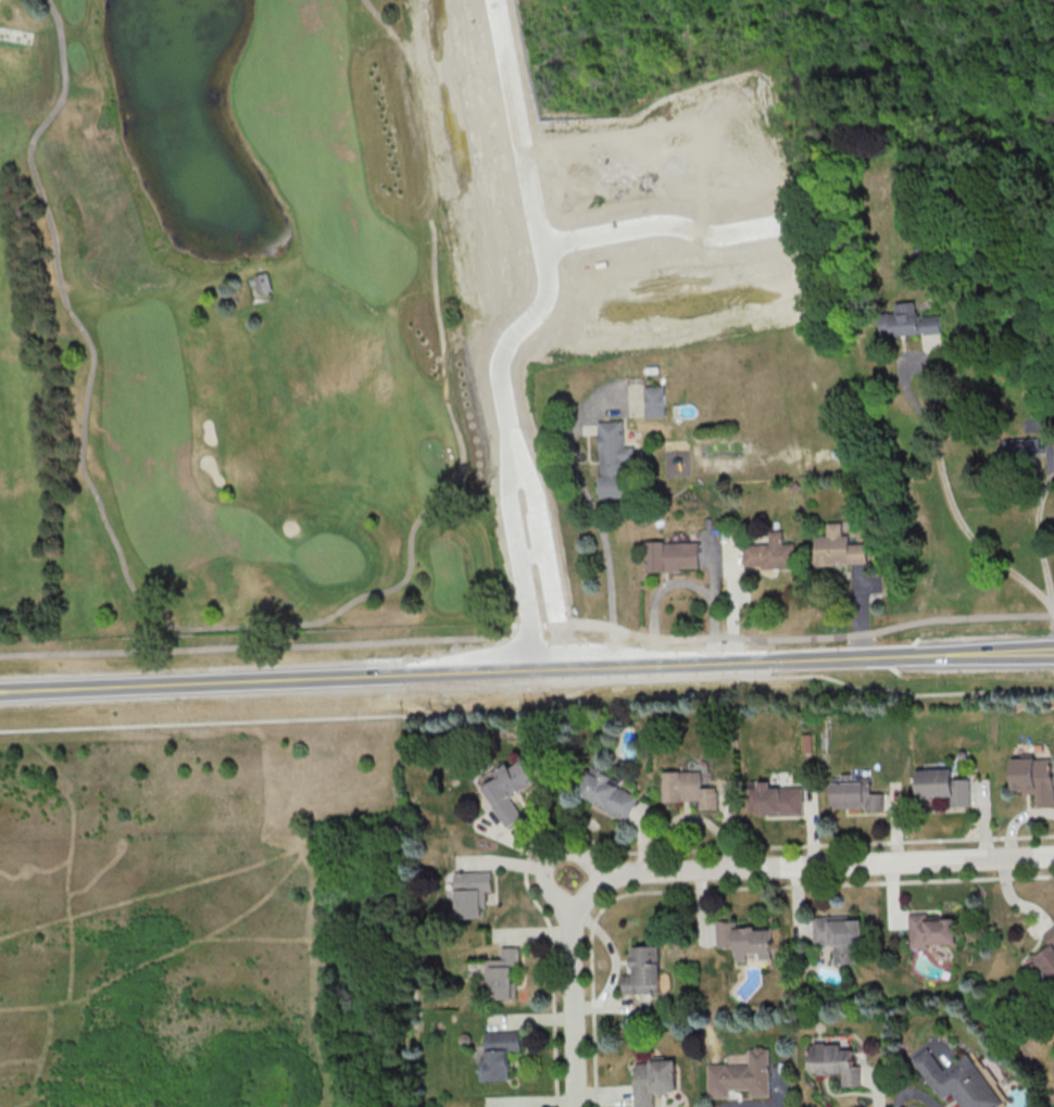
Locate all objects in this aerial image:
park: (926, 70)
road: (548, 225)
road: (664, 234)
building: (261, 285)
building: (912, 322)
park: (227, 349)
building: (655, 402)
road: (522, 439)
building: (1029, 450)
building: (613, 460)
road: (953, 508)
road: (600, 531)
road: (1038, 536)
building: (840, 550)
building: (770, 555)
building: (674, 558)
road: (543, 563)
road: (680, 582)
road: (259, 624)
road: (527, 638)
road: (527, 670)
road: (530, 710)
road: (201, 733)
building: (1036, 779)
building: (945, 788)
building: (690, 791)
building: (511, 793)
building: (611, 796)
building: (857, 797)
building: (776, 801)
road: (654, 851)
road: (579, 854)
road: (278, 859)
road: (816, 864)
road: (66, 865)
road: (47, 872)
road: (97, 876)
road: (548, 888)
road: (724, 888)
building: (472, 895)
park: (204, 930)
building: (934, 930)
building: (842, 936)
road: (258, 940)
building: (749, 940)
road: (165, 955)
building: (1049, 955)
building: (645, 971)
building: (503, 976)
road: (570, 997)
building: (501, 1054)
road: (41, 1060)
road: (20, 1061)
building: (838, 1061)
building: (742, 1077)
building: (959, 1078)
building: (655, 1080)

